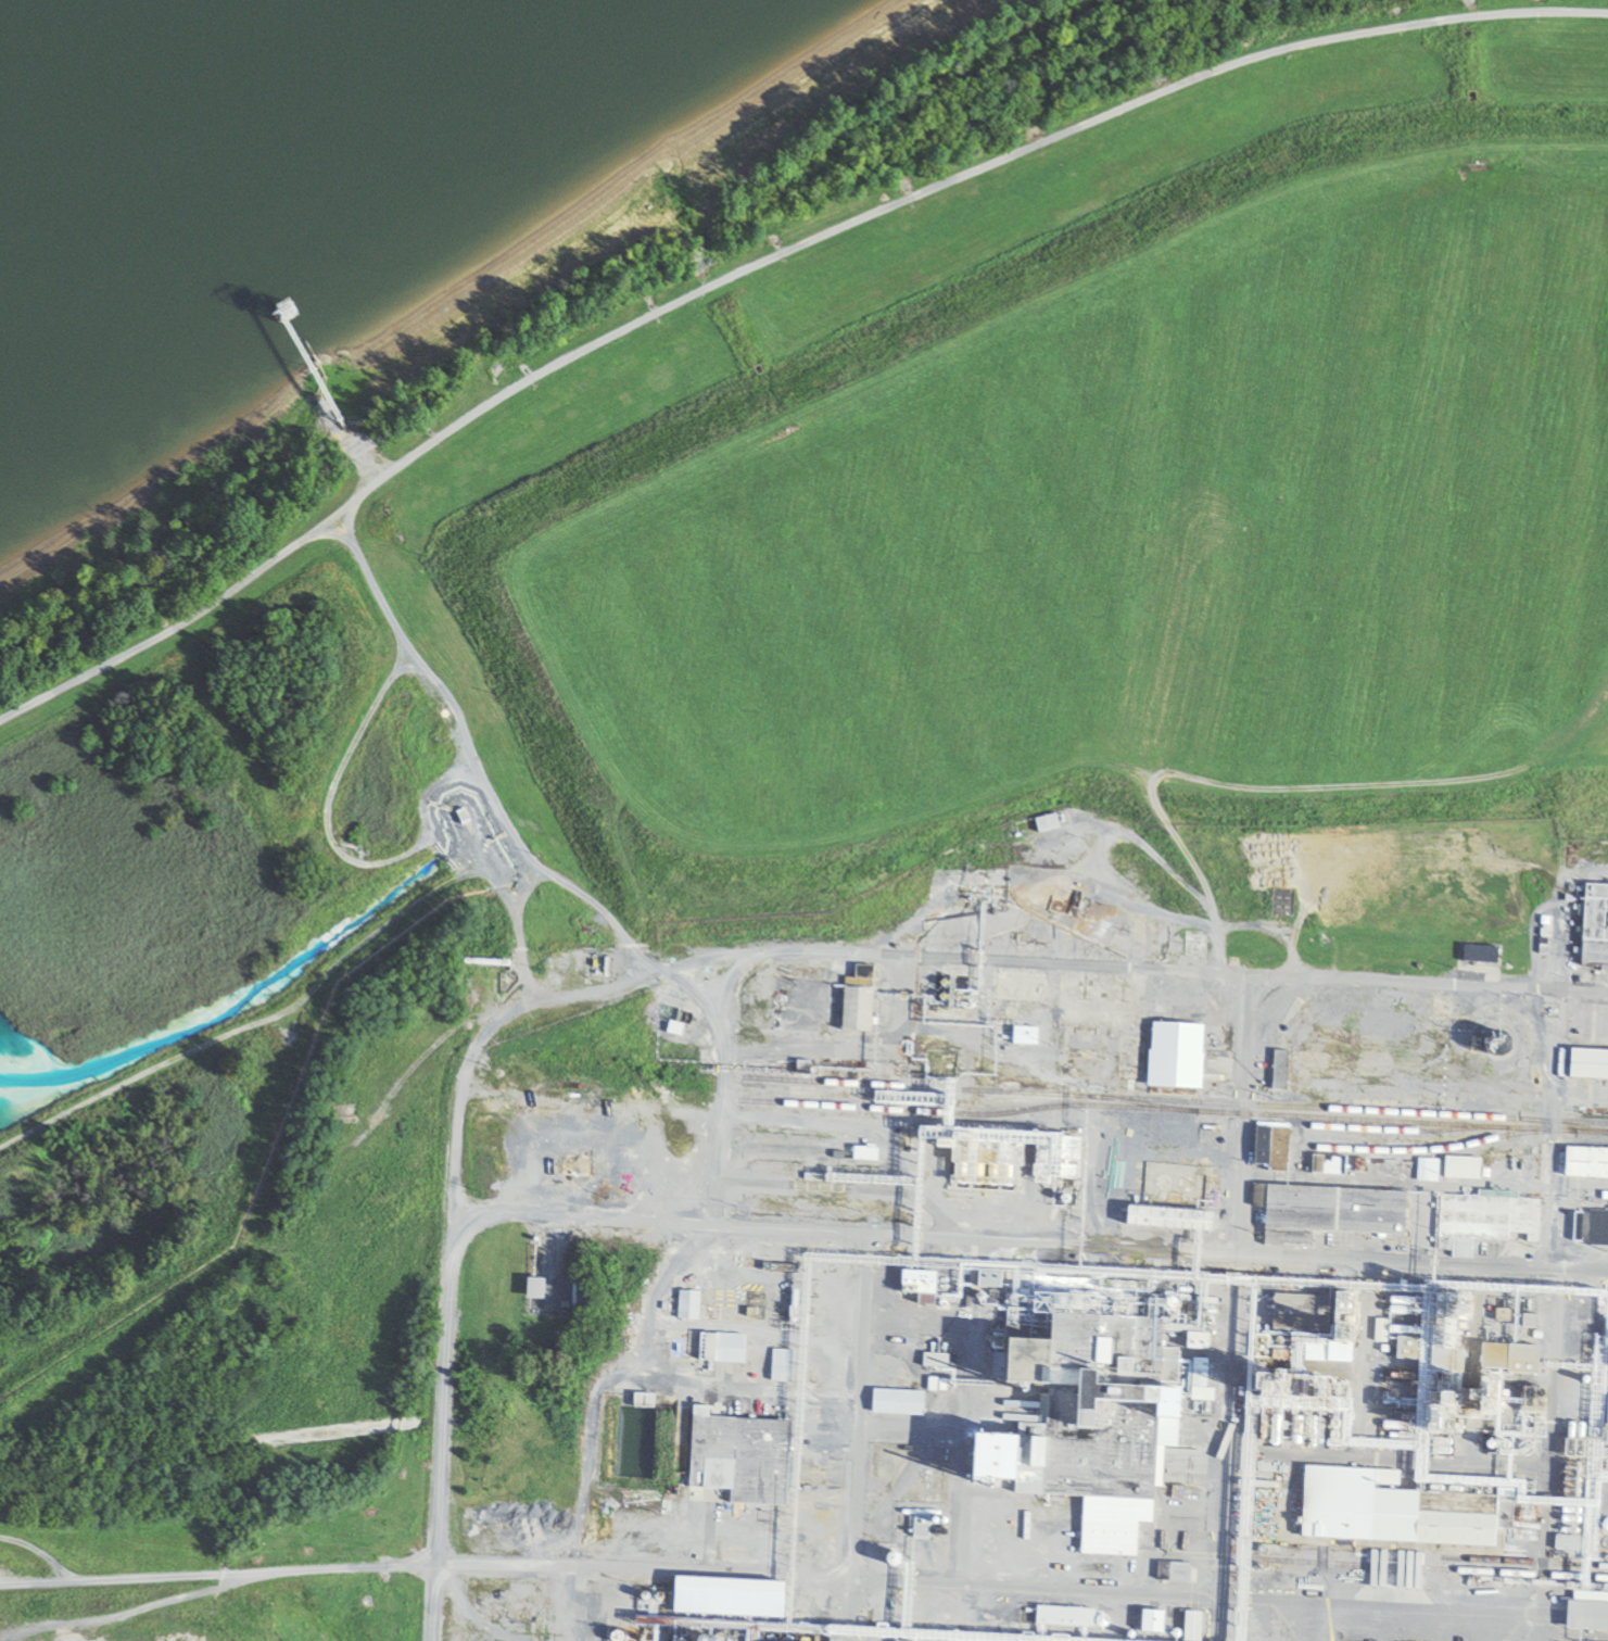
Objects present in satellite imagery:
road: (762, 263)
building: (459, 817)
building: (1043, 823)
building: (1594, 926)
building: (1477, 956)
road: (849, 960)
building: (1016, 988)
building: (856, 1001)
building: (673, 1030)
building: (1173, 1057)
building: (1587, 1065)
building: (1277, 1071)
railway: (1172, 1100)
railway: (1170, 1110)
building: (342, 1116)
railway: (1569, 1125)
railway: (1397, 1131)
building: (1142, 1144)
building: (1268, 1148)
railway: (1429, 1150)
building: (1066, 1159)
building: (1585, 1164)
building: (1326, 1165)
building: (572, 1167)
building: (1460, 1169)
building: (998, 1175)
building: (1325, 1213)
road: (1239, 1214)
building: (1486, 1217)
building: (1167, 1220)
building: (1597, 1228)
road: (840, 1234)
road: (447, 1239)
road: (1422, 1265)
building: (917, 1286)
building: (532, 1290)
building: (686, 1307)
building: (1306, 1312)
building: (683, 1345)
building: (721, 1349)
building: (1520, 1359)
road: (1363, 1362)
building: (780, 1367)
road: (1471, 1367)
building: (641, 1402)
building: (895, 1404)
building: (1082, 1422)
road: (857, 1438)
building: (738, 1459)
road: (1385, 1462)
building: (1389, 1513)
road: (1223, 1527)
railway: (1522, 1563)
railway: (1428, 1568)
building: (1172, 1571)
road: (630, 1573)
building: (725, 1598)
road: (135, 1607)
building: (1061, 1616)
road: (1540, 1616)
building: (1585, 1617)
building: (1150, 1620)
building: (1190, 1623)
road: (1317, 1636)
road: (1474, 1640)

